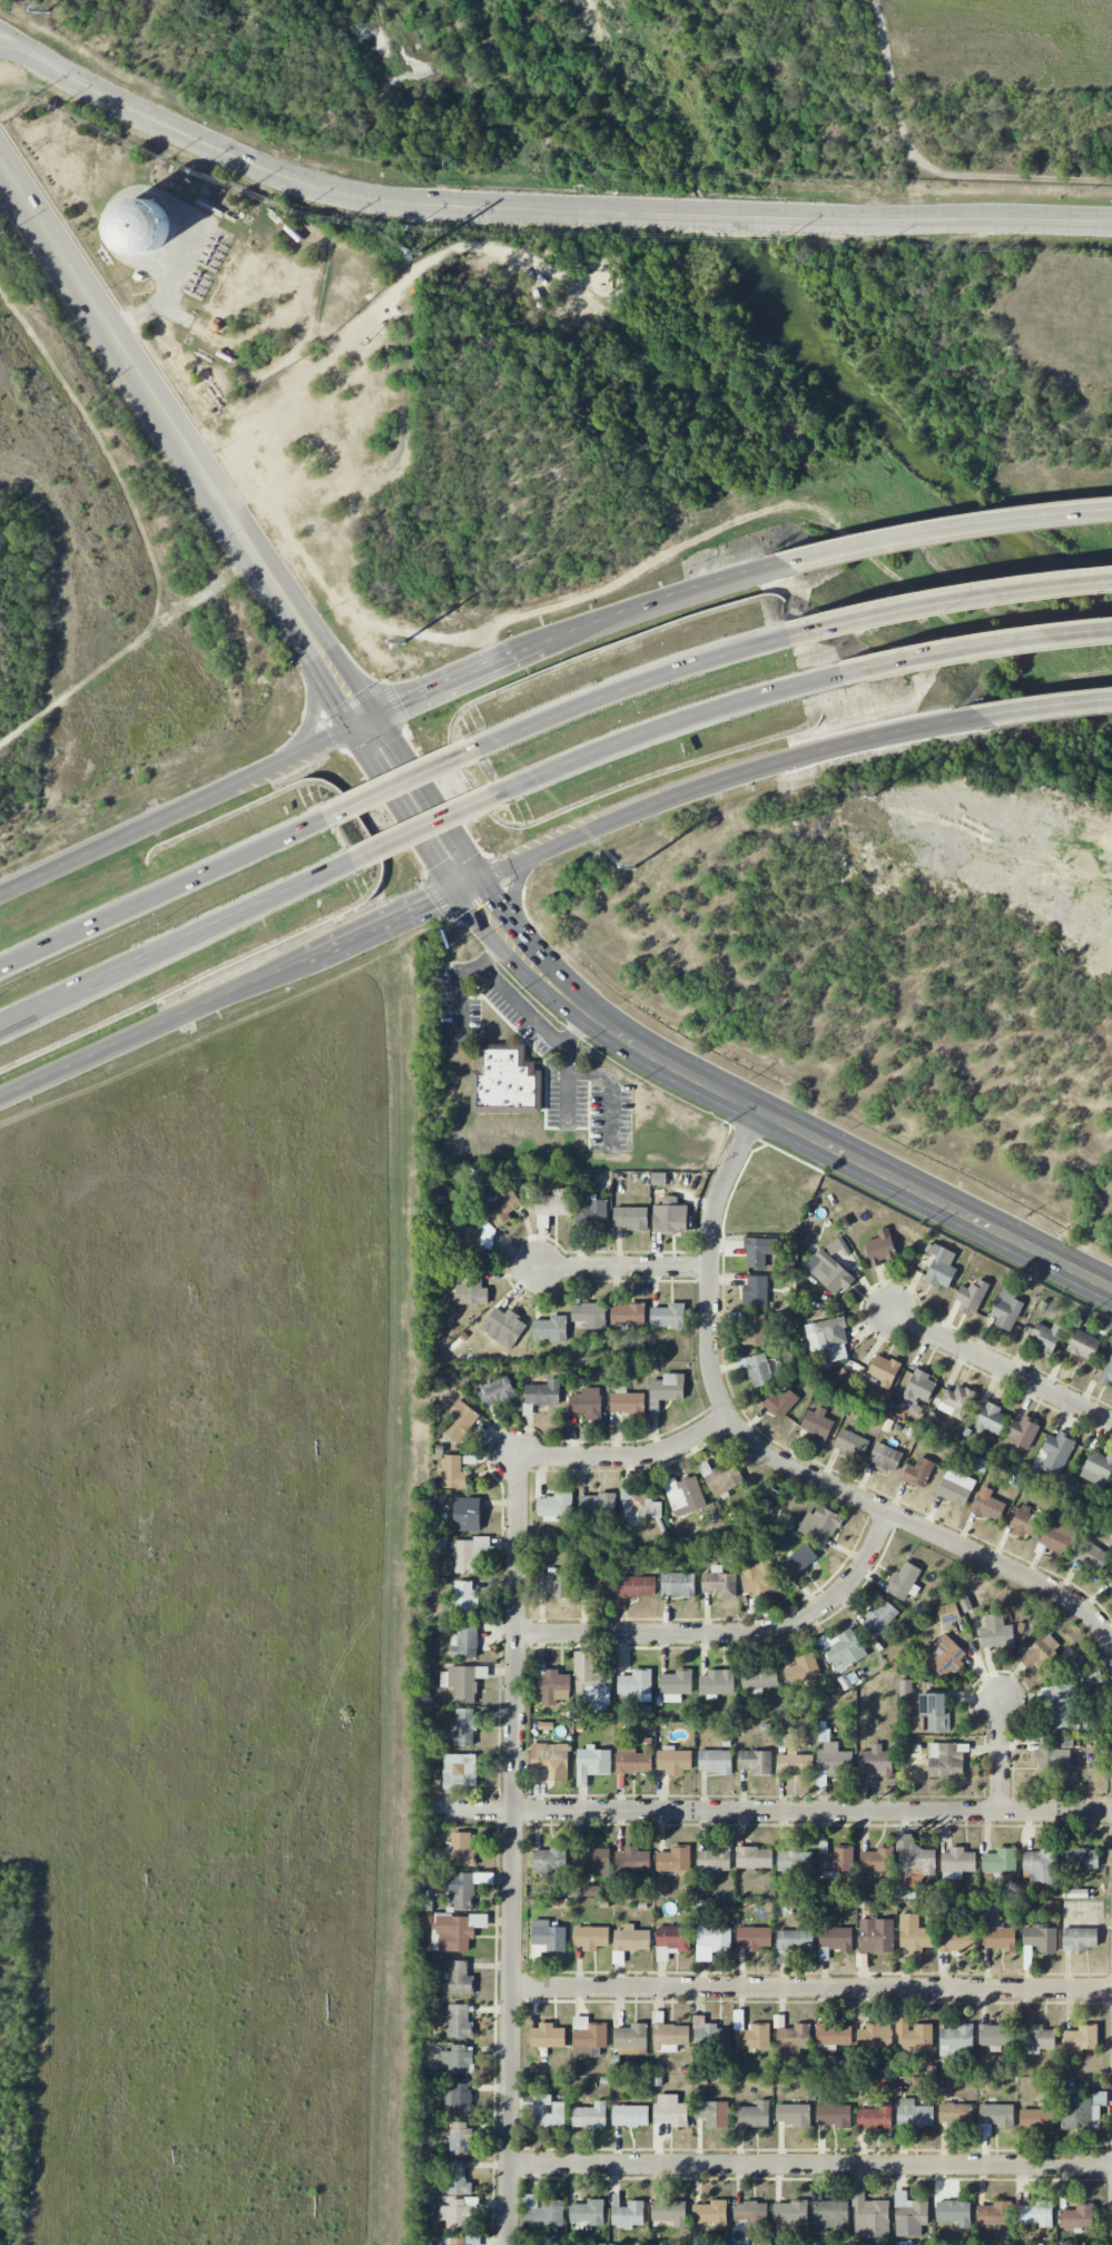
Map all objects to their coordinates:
power tower: (48, 10)
road: (33, 47)
road: (33, 55)
road: (931, 168)
road: (574, 209)
building: (142, 226)
power tower: (421, 250)
road: (157, 402)
road: (947, 531)
road: (952, 603)
power tower: (403, 641)
road: (956, 652)
road: (347, 671)
road: (327, 683)
road: (638, 686)
traffic signals: (403, 701)
road: (312, 702)
traffic signals: (339, 702)
road: (385, 709)
road: (949, 723)
road: (651, 737)
traffic signals: (395, 741)
road: (406, 784)
power tower: (874, 795)
road: (429, 798)
road: (405, 809)
road: (432, 829)
traffic signals: (440, 865)
power tower: (634, 867)
road: (164, 895)
road: (511, 895)
traffic signals: (492, 899)
traffic signals: (433, 906)
road: (393, 924)
road: (521, 938)
road: (180, 944)
road: (504, 949)
road: (462, 993)
road: (530, 1008)
road: (43, 1011)
building: (506, 1081)
road: (831, 1149)
building: (659, 1179)
building: (502, 1207)
building: (552, 1207)
building: (591, 1211)
building: (670, 1217)
building: (631, 1218)
building: (837, 1247)
building: (880, 1248)
building: (471, 1249)
building: (759, 1251)
building: (941, 1267)
road: (624, 1268)
building: (829, 1272)
building: (472, 1289)
building: (756, 1290)
building: (972, 1297)
building: (1006, 1309)
building: (590, 1314)
building: (628, 1314)
building: (668, 1316)
building: (505, 1325)
building: (550, 1328)
building: (754, 1329)
building: (1047, 1337)
building: (828, 1338)
building: (1083, 1345)
road: (1002, 1367)
building: (760, 1369)
building: (884, 1370)
building: (1108, 1373)
building: (668, 1388)
building: (495, 1391)
building: (917, 1391)
building: (543, 1394)
building: (627, 1401)
building: (781, 1401)
building: (956, 1401)
building: (587, 1404)
building: (992, 1419)
building: (461, 1421)
building: (816, 1425)
building: (1022, 1431)
building: (850, 1442)
building: (1057, 1453)
road: (627, 1457)
building: (885, 1457)
road: (778, 1461)
building: (1098, 1468)
building: (453, 1471)
building: (918, 1473)
building: (721, 1477)
building: (956, 1487)
building: (685, 1495)
building: (770, 1496)
building: (986, 1504)
building: (598, 1505)
building: (637, 1505)
building: (555, 1506)
building: (468, 1514)
building: (1022, 1520)
building: (820, 1525)
building: (1057, 1537)
building: (470, 1554)
building: (1092, 1556)
building: (799, 1562)
building: (759, 1577)
building: (905, 1581)
building: (1109, 1581)
building: (597, 1583)
building: (555, 1584)
building: (678, 1584)
building: (720, 1584)
building: (637, 1586)
building: (465, 1598)
building: (948, 1613)
building: (880, 1618)
building: (996, 1633)
road: (729, 1634)
building: (465, 1642)
building: (844, 1650)
building: (1041, 1652)
building: (803, 1670)
building: (1091, 1677)
building: (759, 1678)
building: (463, 1682)
building: (591, 1683)
building: (716, 1683)
building: (636, 1685)
building: (676, 1685)
building: (553, 1686)
building: (905, 1688)
building: (1064, 1691)
building: (934, 1711)
building: (1067, 1715)
building: (464, 1727)
building: (831, 1755)
road: (1000, 1755)
building: (1051, 1756)
building: (946, 1760)
building: (673, 1761)
building: (756, 1761)
building: (875, 1761)
building: (550, 1762)
building: (715, 1762)
building: (633, 1763)
building: (592, 1764)
building: (795, 1764)
building: (459, 1771)
road: (771, 1812)
building: (462, 1850)
road: (512, 1851)
building: (755, 1858)
building: (915, 1858)
building: (673, 1859)
building: (1081, 1859)
building: (592, 1860)
building: (632, 1860)
building: (714, 1860)
building: (835, 1860)
building: (878, 1860)
building: (550, 1861)
building: (795, 1861)
building: (1000, 1861)
building: (956, 1863)
building: (1041, 1865)
building: (462, 1891)
building: (456, 1931)
building: (917, 1932)
building: (876, 1936)
building: (957, 1937)
building: (1040, 1937)
building: (547, 1938)
building: (591, 1938)
building: (755, 1938)
building: (631, 1939)
building: (998, 1939)
building: (1080, 1939)
building: (712, 1940)
building: (795, 1940)
building: (835, 1940)
building: (672, 1941)
building: (618, 1957)
building: (460, 1979)
road: (811, 1988)
building: (460, 2021)
building: (706, 2034)
building: (913, 2034)
building: (548, 2036)
building: (833, 2036)
building: (874, 2036)
building: (588, 2037)
building: (669, 2037)
building: (754, 2037)
building: (996, 2037)
building: (794, 2038)
building: (1036, 2039)
building: (1081, 2039)
park: (9, 2040)
building: (631, 2040)
building: (955, 2040)
building: (457, 2060)
building: (461, 2099)
building: (1083, 2110)
building: (548, 2111)
building: (833, 2113)
building: (670, 2114)
building: (712, 2114)
building: (914, 2114)
building: (955, 2114)
building: (752, 2115)
building: (793, 2115)
building: (875, 2115)
building: (997, 2115)
building: (590, 2116)
building: (630, 2116)
building: (1037, 2118)
building: (460, 2138)
road: (810, 2164)
building: (457, 2178)
building: (542, 2212)
building: (588, 2212)
building: (670, 2212)
building: (790, 2212)
building: (711, 2213)
building: (751, 2213)
building: (954, 2213)
building: (995, 2213)
building: (457, 2214)
building: (627, 2214)
building: (1036, 2214)
building: (909, 2215)
building: (830, 2216)
building: (869, 2216)
building: (1077, 2217)
building: (460, 2242)

